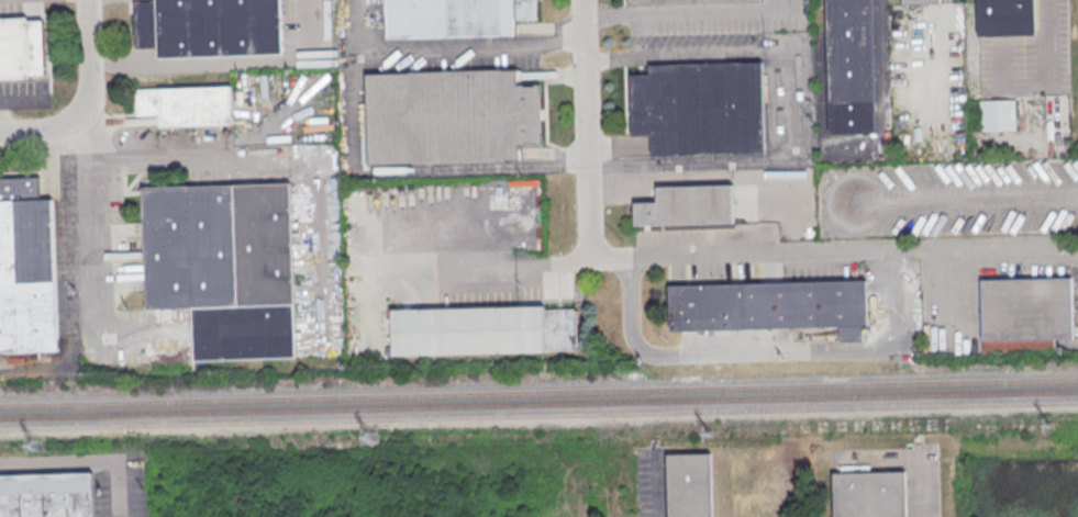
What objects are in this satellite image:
building: (680, 1)
building: (920, 1)
road: (688, 12)
building: (455, 16)
building: (1005, 16)
road: (946, 23)
building: (209, 27)
road: (1053, 35)
road: (474, 45)
building: (21, 47)
road: (87, 60)
road: (221, 61)
building: (851, 69)
road: (5, 101)
building: (186, 104)
road: (793, 105)
building: (700, 108)
building: (997, 114)
building: (451, 116)
road: (38, 133)
road: (586, 135)
road: (389, 169)
road: (93, 204)
building: (687, 205)
road: (985, 248)
road: (481, 263)
building: (224, 266)
building: (26, 268)
building: (770, 306)
building: (1026, 308)
road: (893, 325)
building: (482, 333)
railway: (538, 391)
railway: (538, 403)
railway: (538, 414)
power tower: (1051, 426)
power tower: (709, 432)
power tower: (375, 437)
power tower: (38, 450)
road: (81, 464)
building: (688, 485)
building: (868, 494)
building: (47, 495)
parking lot: (921, 495)

